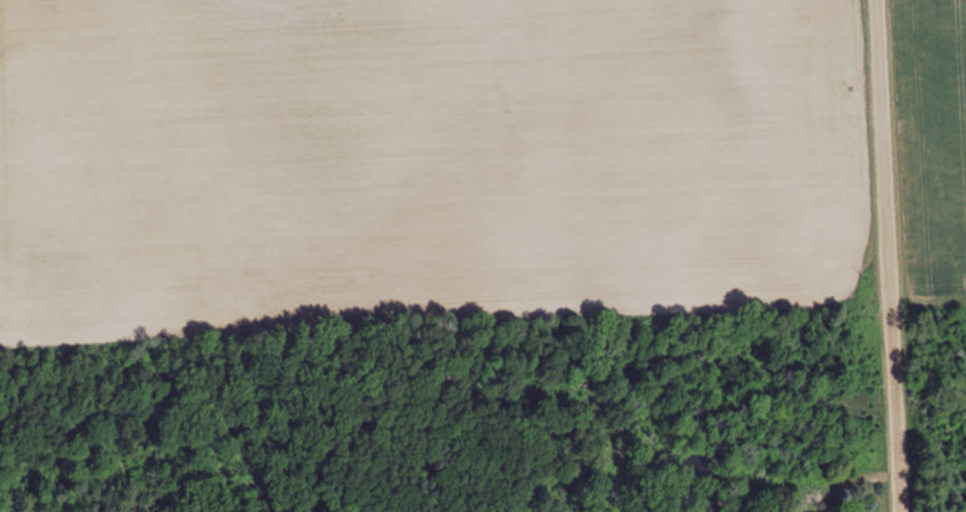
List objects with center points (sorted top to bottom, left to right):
road: (889, 255)
building: (810, 506)

